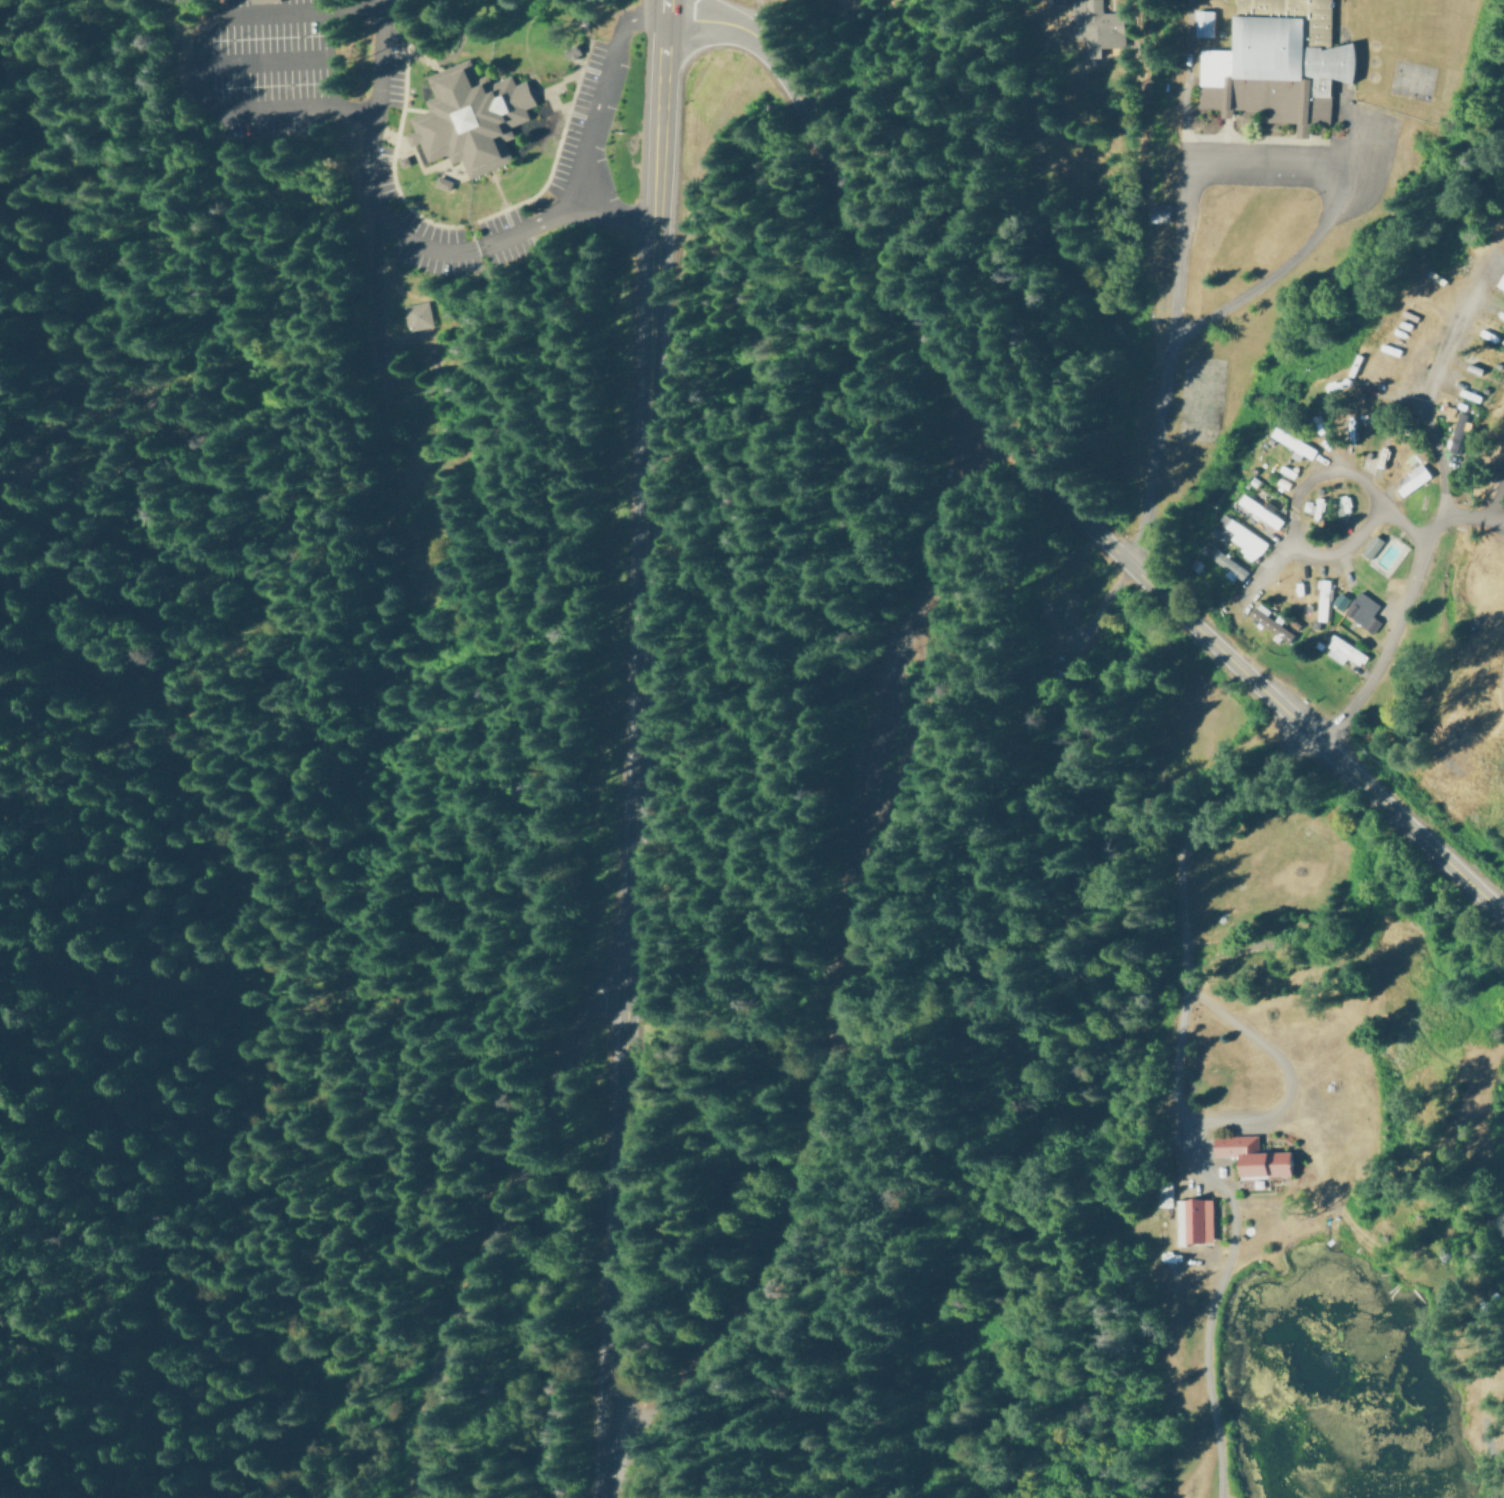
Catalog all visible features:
building: (264, 3)
park: (1452, 6)
road: (629, 10)
building: (1095, 25)
building: (1204, 27)
building: (1277, 66)
road: (372, 115)
building: (473, 122)
building: (403, 165)
road: (1181, 176)
road: (569, 184)
building: (443, 186)
building: (1158, 211)
road: (601, 215)
building: (1500, 281)
road: (1240, 296)
building: (419, 318)
building: (1458, 432)
building: (1292, 443)
building: (1375, 459)
building: (1411, 478)
road: (1047, 483)
road: (1296, 491)
road: (1495, 497)
building: (1341, 504)
building: (1317, 507)
building: (1257, 509)
road: (1438, 515)
road: (1469, 518)
building: (1242, 537)
building: (1371, 545)
building: (1227, 564)
road: (1277, 564)
road: (361, 596)
building: (1322, 599)
building: (1339, 600)
building: (1362, 611)
building: (1270, 622)
building: (1343, 650)
road: (632, 749)
road: (194, 766)
road: (1178, 1033)
building: (1252, 1158)
road: (502, 1218)
building: (1193, 1220)

